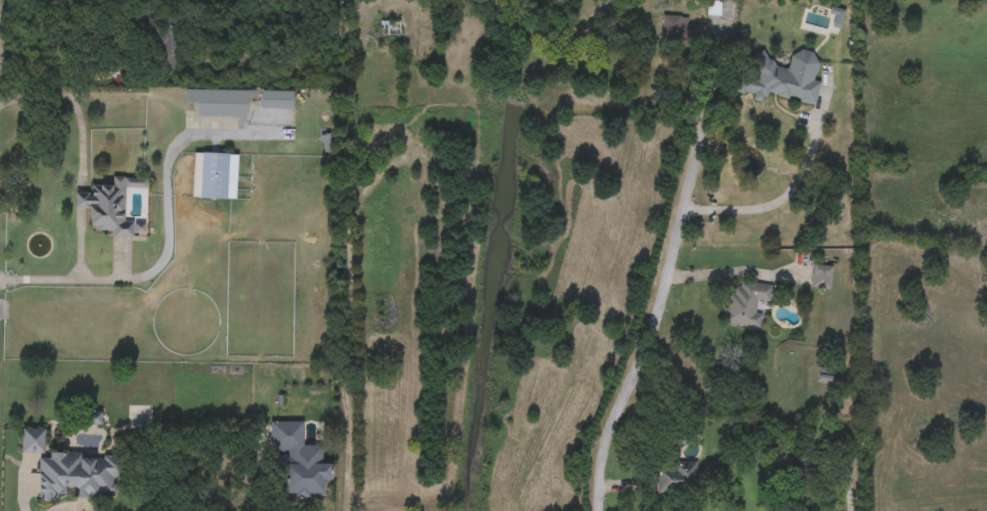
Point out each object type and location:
building: (390, 28)
building: (679, 30)
building: (781, 78)
building: (277, 100)
building: (219, 103)
road: (75, 109)
road: (203, 135)
building: (214, 176)
road: (794, 185)
road: (79, 201)
building: (113, 207)
road: (150, 271)
road: (726, 272)
road: (71, 277)
building: (821, 277)
building: (747, 304)
road: (658, 312)
building: (33, 441)
building: (298, 463)
building: (77, 476)
building: (676, 480)

